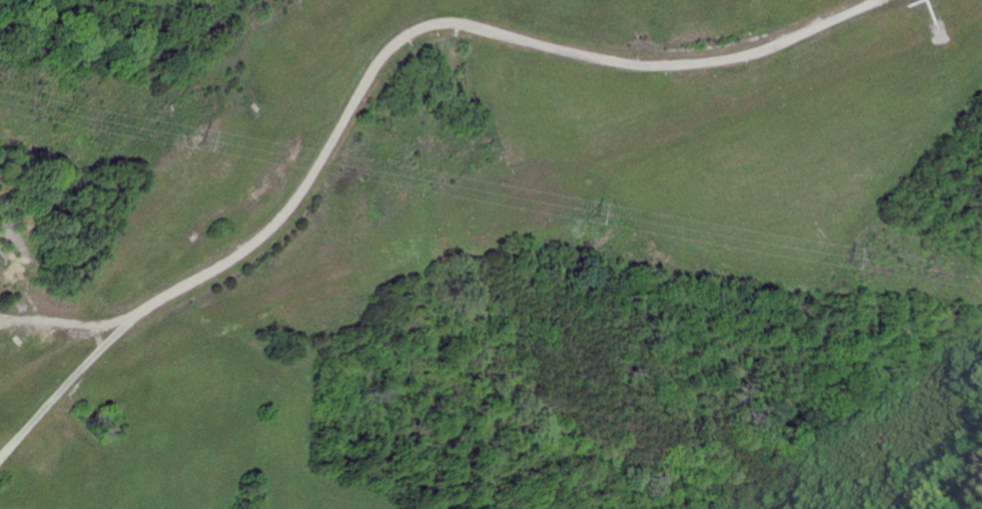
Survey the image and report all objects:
road: (858, 8)
road: (361, 94)
power tower: (197, 135)
power tower: (593, 210)
power tower: (832, 254)

